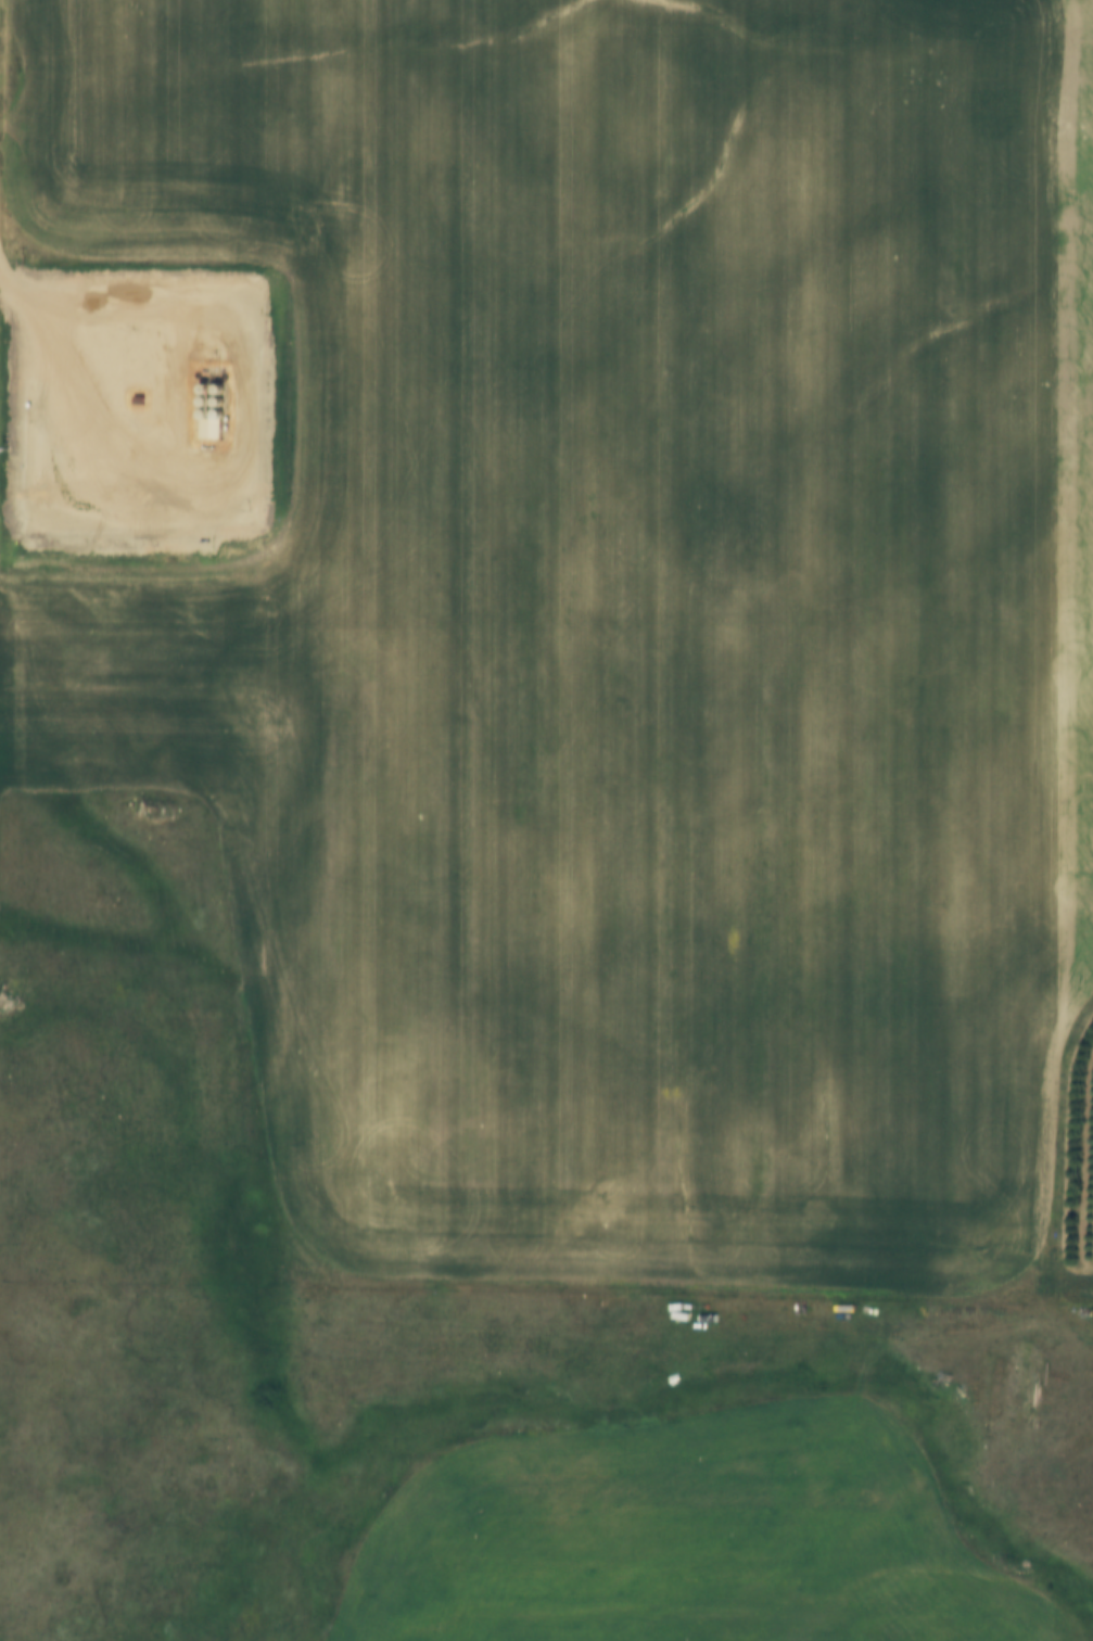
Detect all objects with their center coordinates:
road: (8, 245)
building: (209, 421)
road: (1025, 1347)

